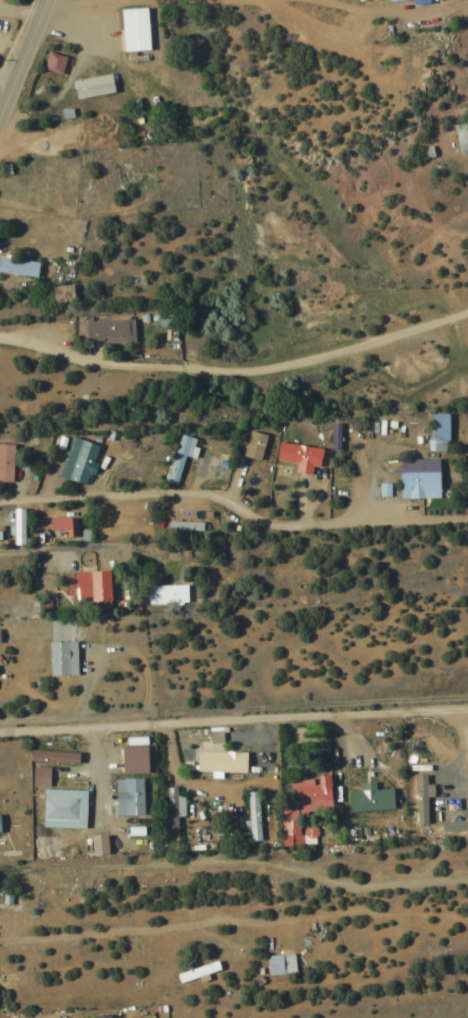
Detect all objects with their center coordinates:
building: (391, 0)
building: (417, 2)
road: (20, 16)
road: (357, 16)
building: (132, 30)
road: (23, 58)
building: (51, 63)
road: (7, 78)
building: (90, 86)
building: (460, 137)
building: (17, 267)
building: (103, 330)
road: (236, 371)
building: (434, 432)
building: (333, 436)
building: (251, 446)
building: (297, 457)
building: (177, 460)
building: (77, 461)
building: (4, 463)
building: (416, 479)
road: (234, 507)
building: (184, 524)
building: (60, 526)
building: (17, 527)
building: (118, 528)
road: (67, 547)
building: (88, 587)
building: (163, 595)
building: (60, 659)
road: (76, 714)
road: (233, 718)
building: (51, 756)
building: (220, 756)
building: (130, 759)
building: (127, 796)
building: (367, 798)
building: (301, 805)
building: (61, 808)
building: (170, 814)
building: (252, 816)
road: (235, 861)
road: (234, 933)
building: (278, 964)
building: (194, 971)
road: (161, 996)
building: (98, 1016)

